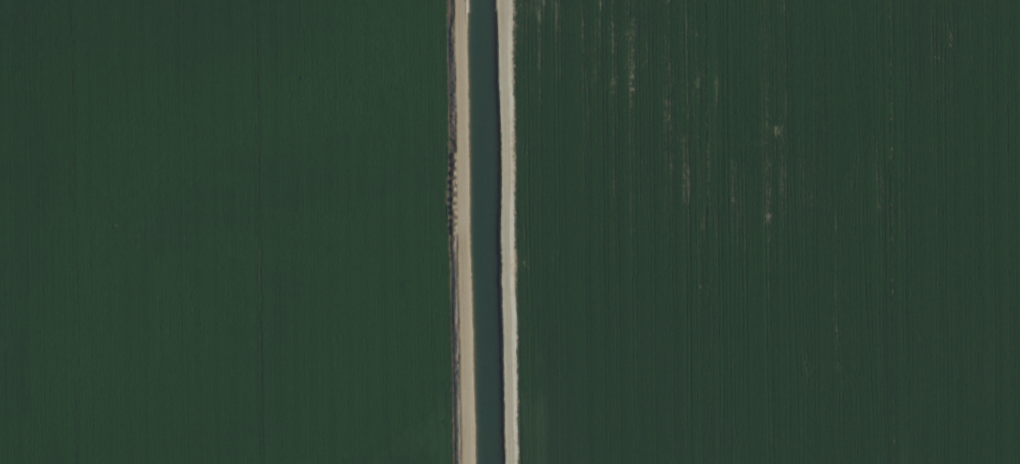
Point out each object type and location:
crop: (510, 232)

